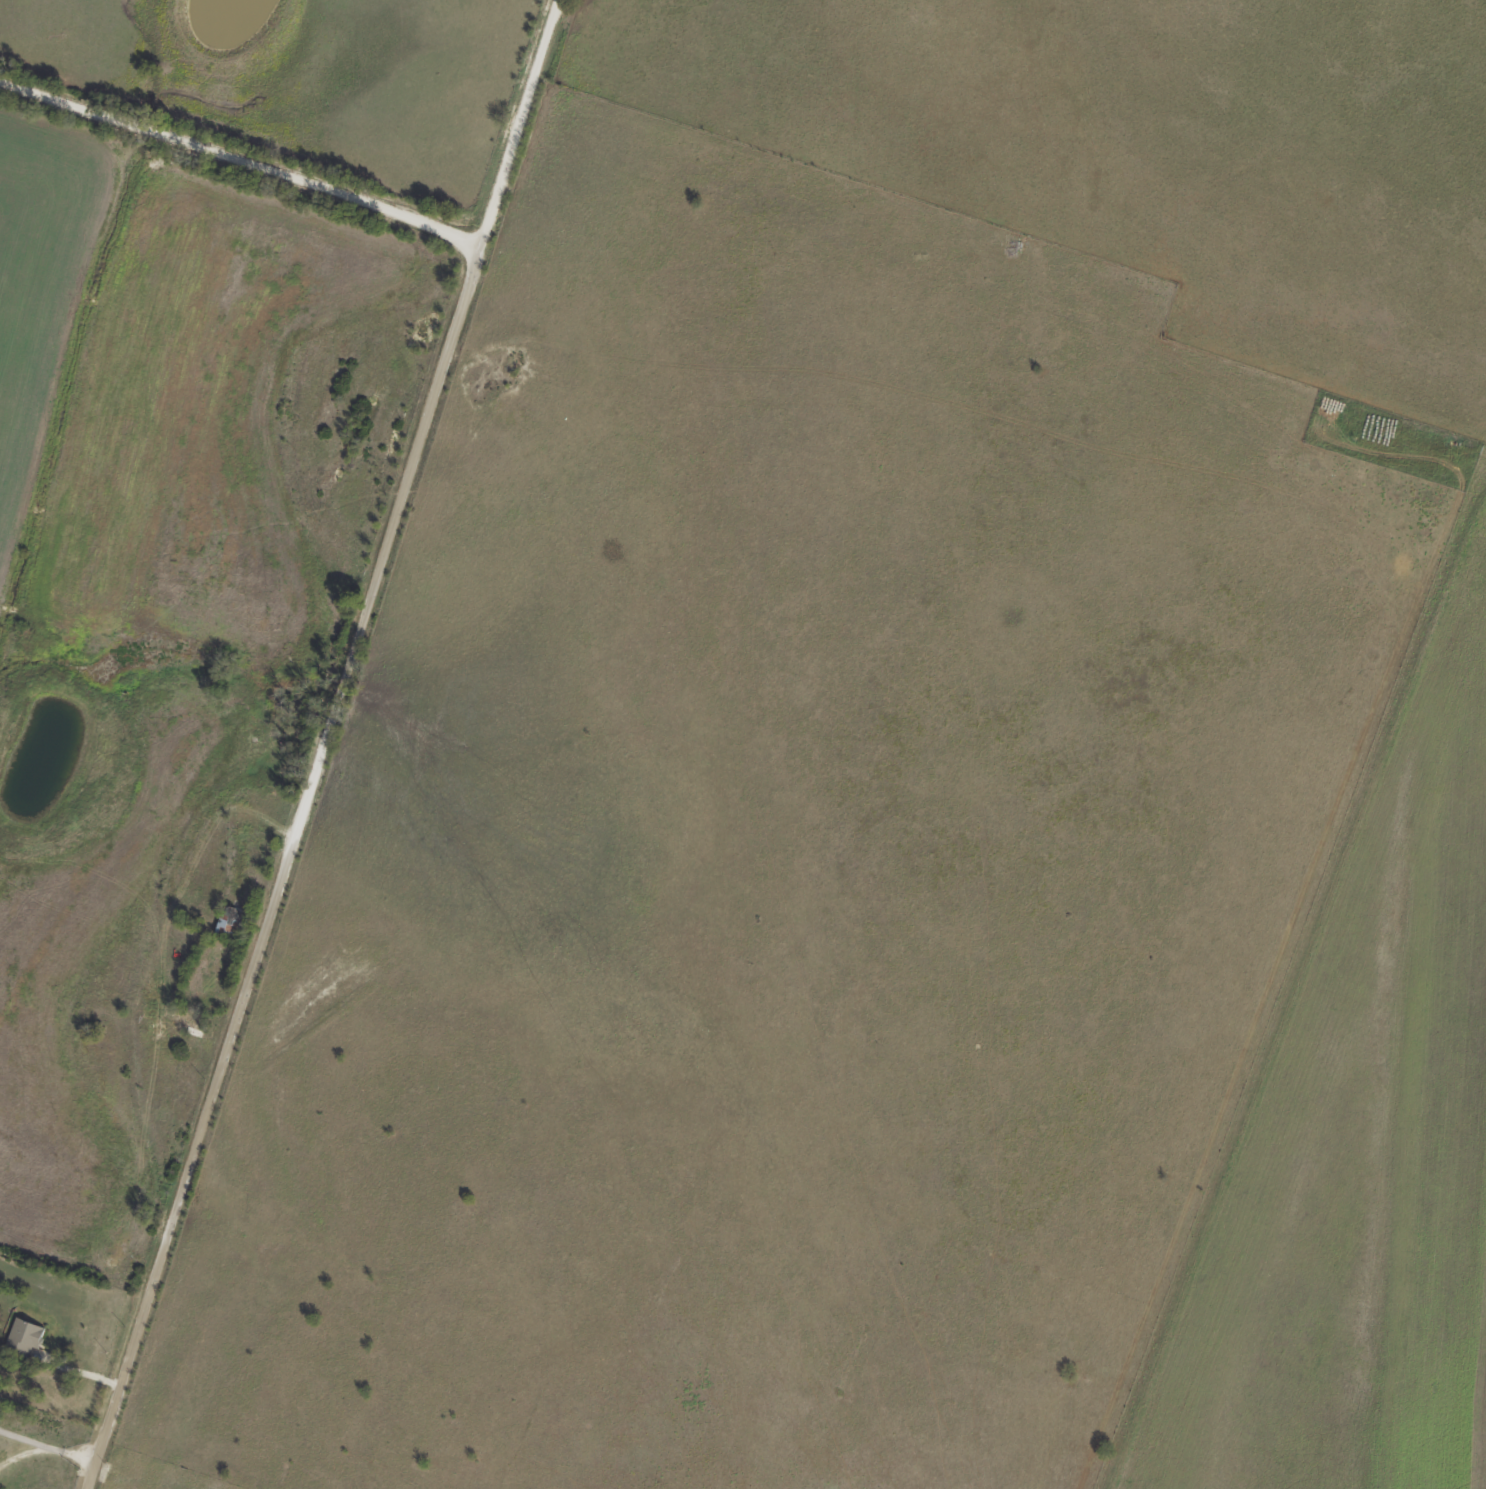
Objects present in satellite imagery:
road: (240, 158)
road: (326, 743)
building: (231, 921)
building: (23, 1337)

